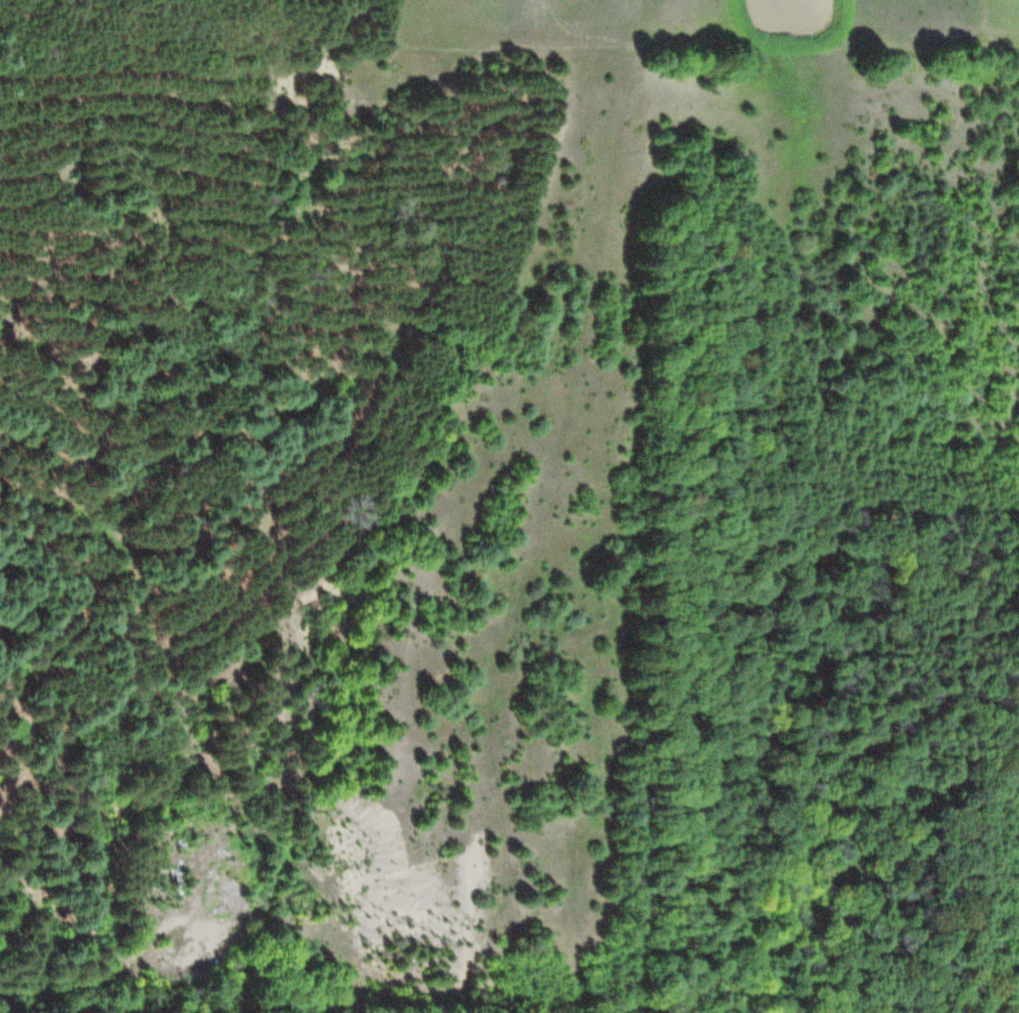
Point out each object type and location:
road: (104, 973)

